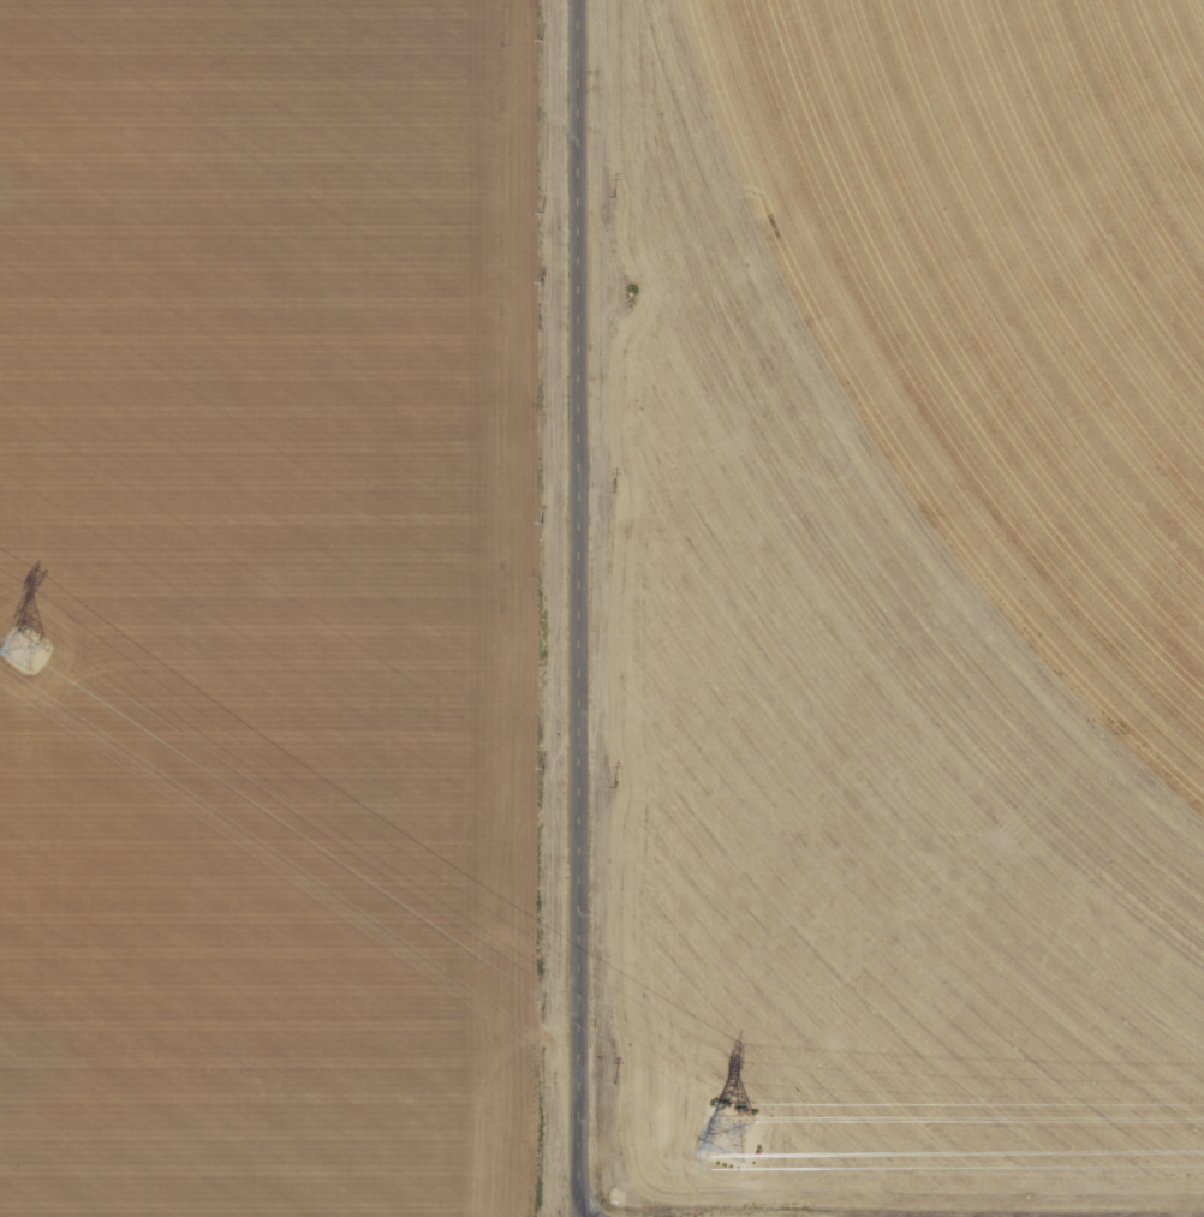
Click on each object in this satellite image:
road: (582, 608)
power tower: (26, 654)
power tower: (731, 1138)

